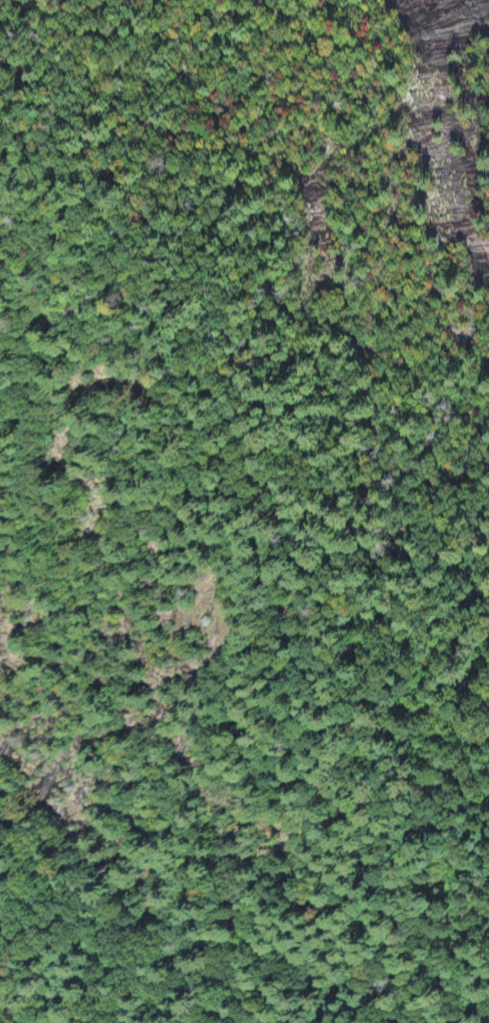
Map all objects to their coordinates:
park: (301, 281)

